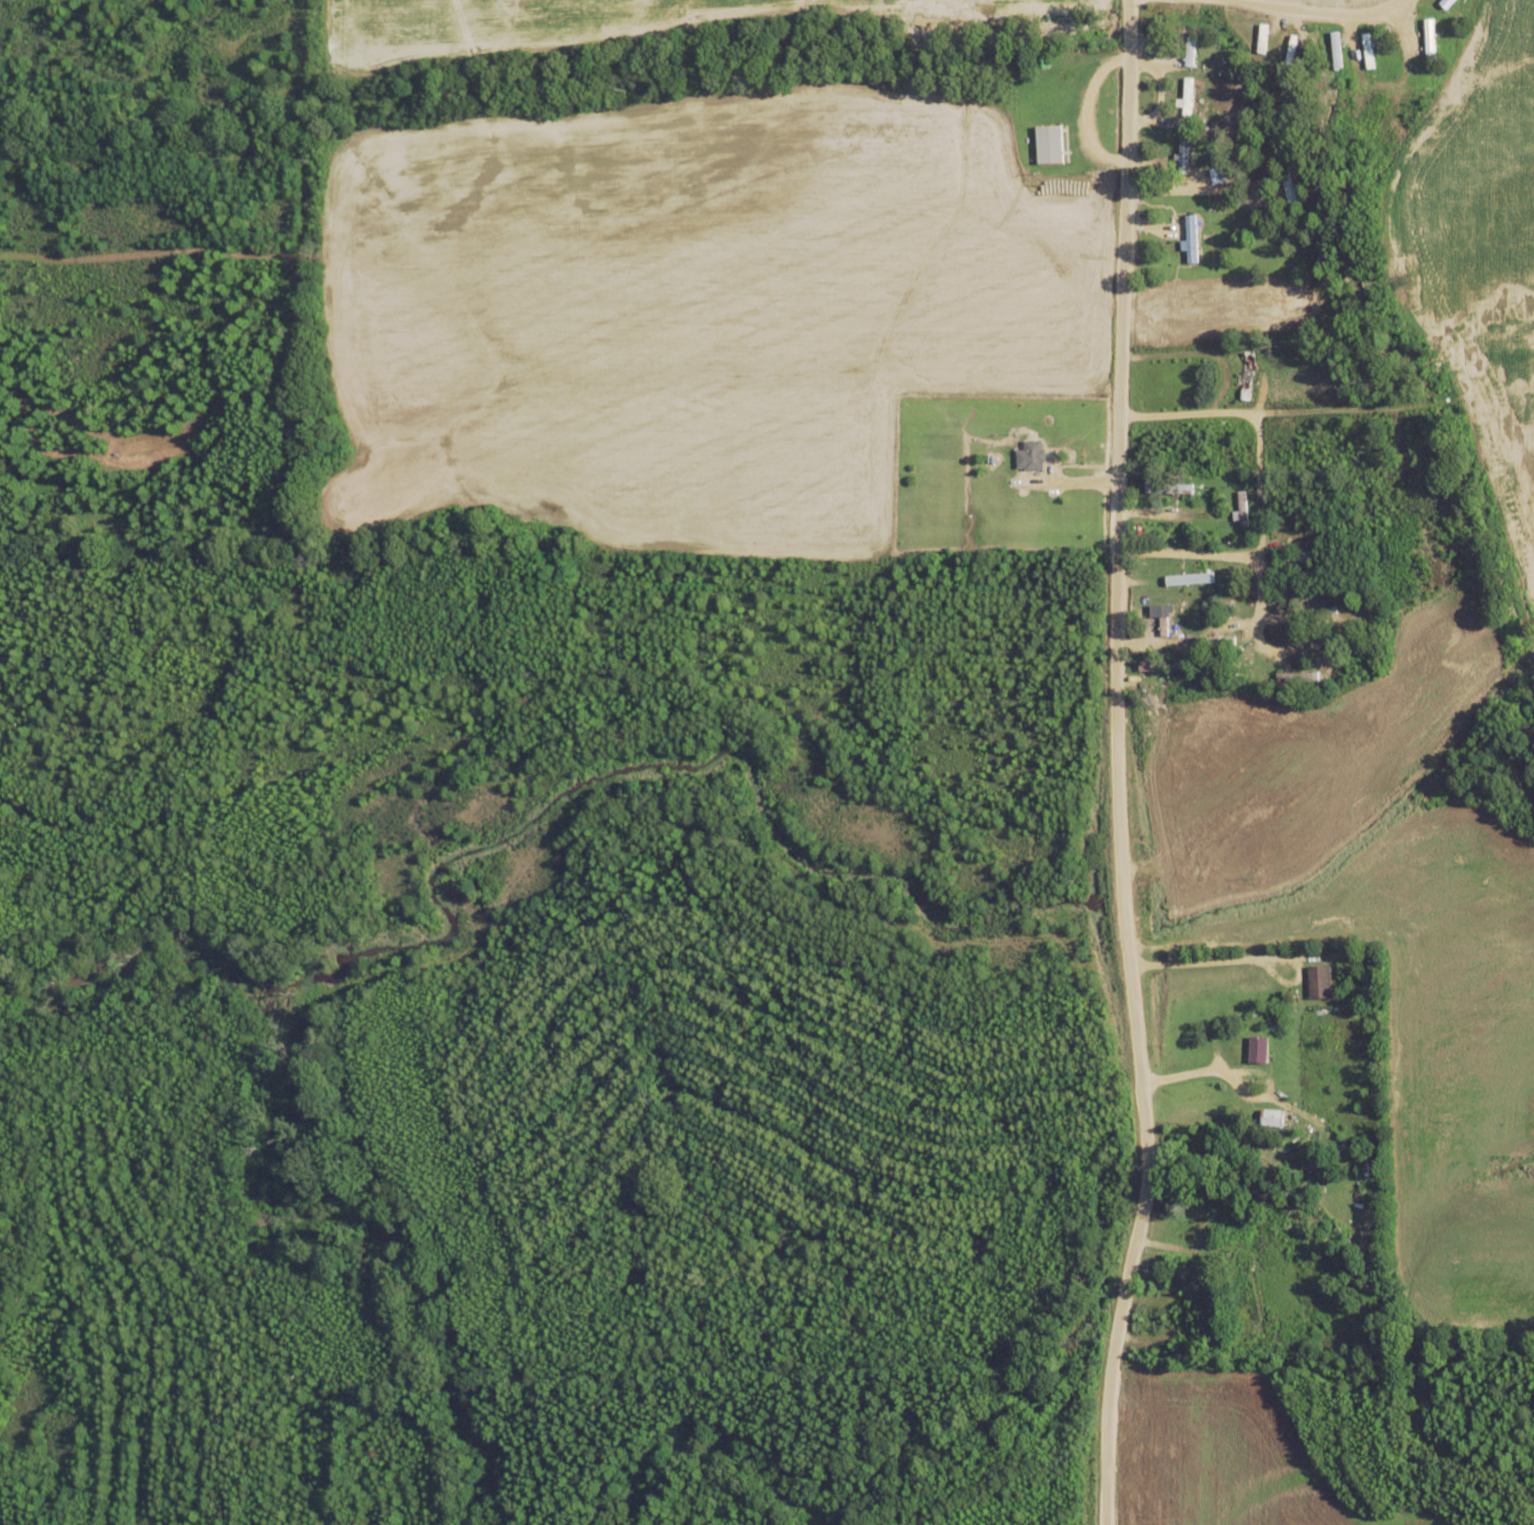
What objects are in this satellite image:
building: (1447, 1)
road: (1301, 15)
building: (1432, 40)
building: (1371, 50)
building: (1193, 51)
building: (1189, 95)
building: (1406, 118)
building: (1052, 143)
building: (1186, 153)
building: (1288, 190)
building: (1193, 238)
building: (1249, 376)
building: (1033, 455)
building: (1171, 488)
building: (1301, 556)
building: (1218, 640)
building: (1162, 665)
building: (1299, 676)
road: (1120, 765)
building: (1321, 982)
building: (1199, 1098)
building: (1274, 1118)
building: (1197, 1228)
building: (1195, 1277)
building: (1182, 1353)

